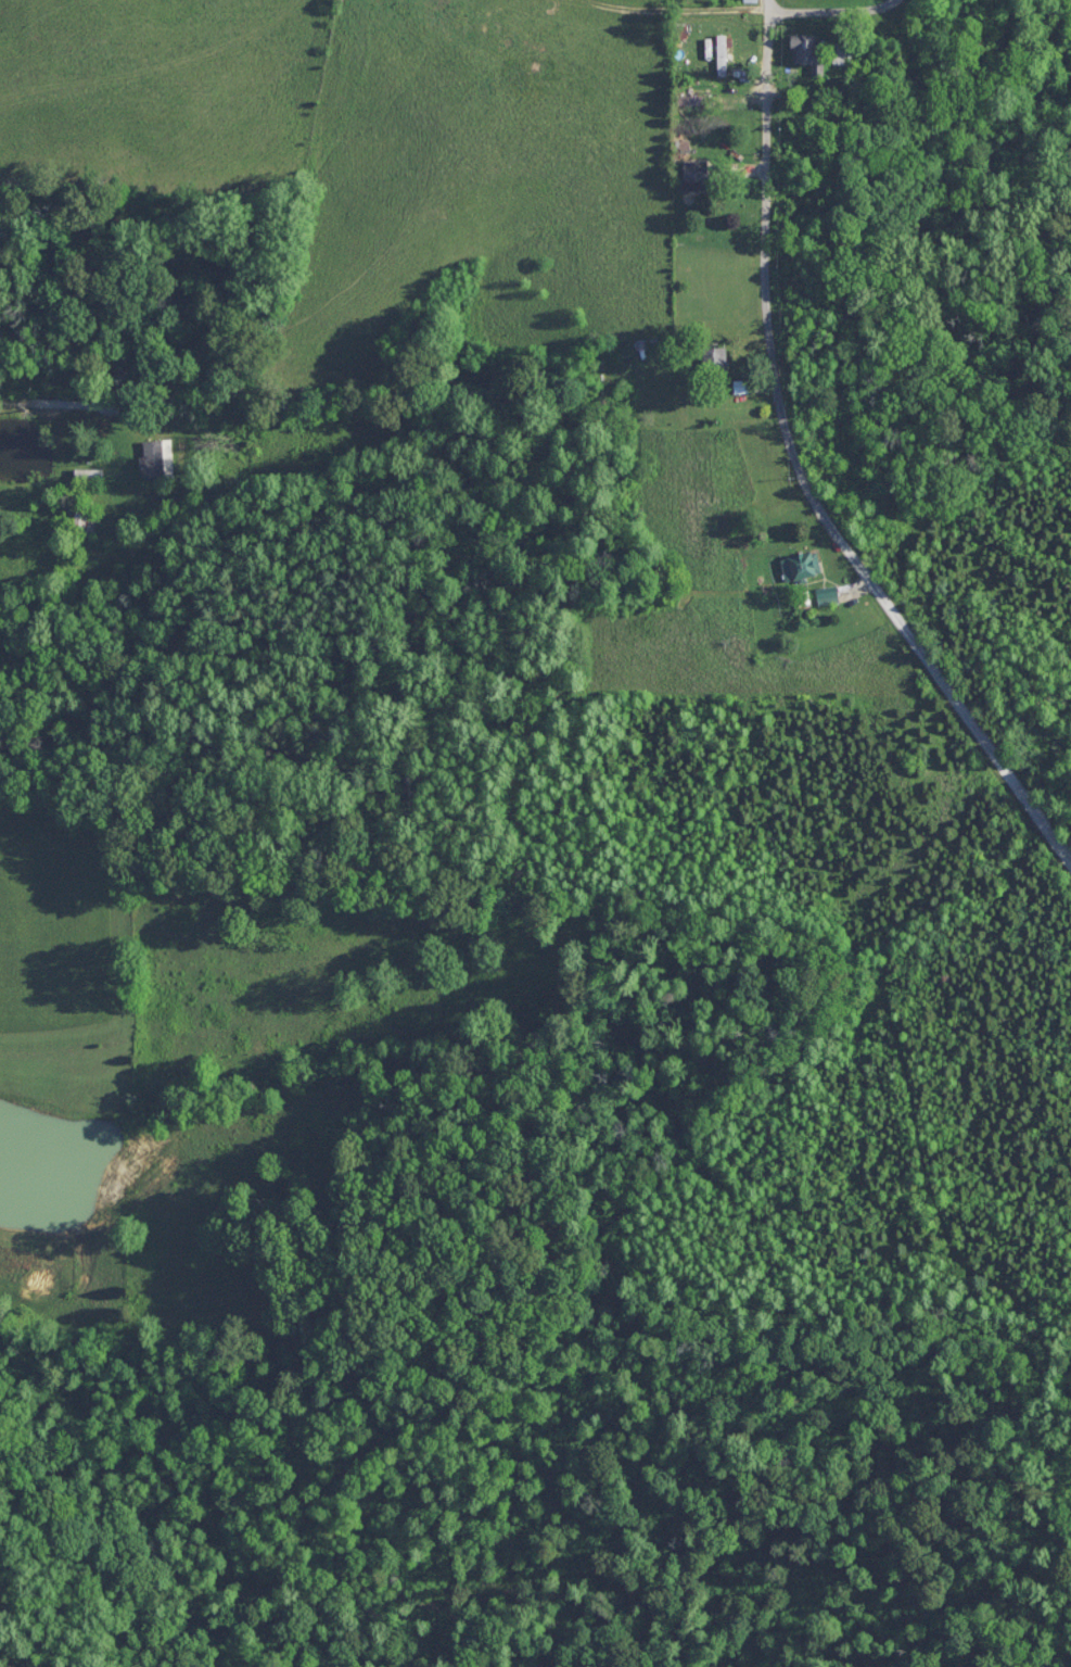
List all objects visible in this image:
building: (750, 1)
road: (839, 10)
building: (807, 50)
building: (845, 50)
building: (722, 54)
building: (698, 174)
road: (764, 253)
building: (716, 358)
road: (67, 404)
building: (157, 458)
building: (89, 475)
building: (82, 517)
building: (801, 565)
building: (829, 594)
road: (941, 678)

